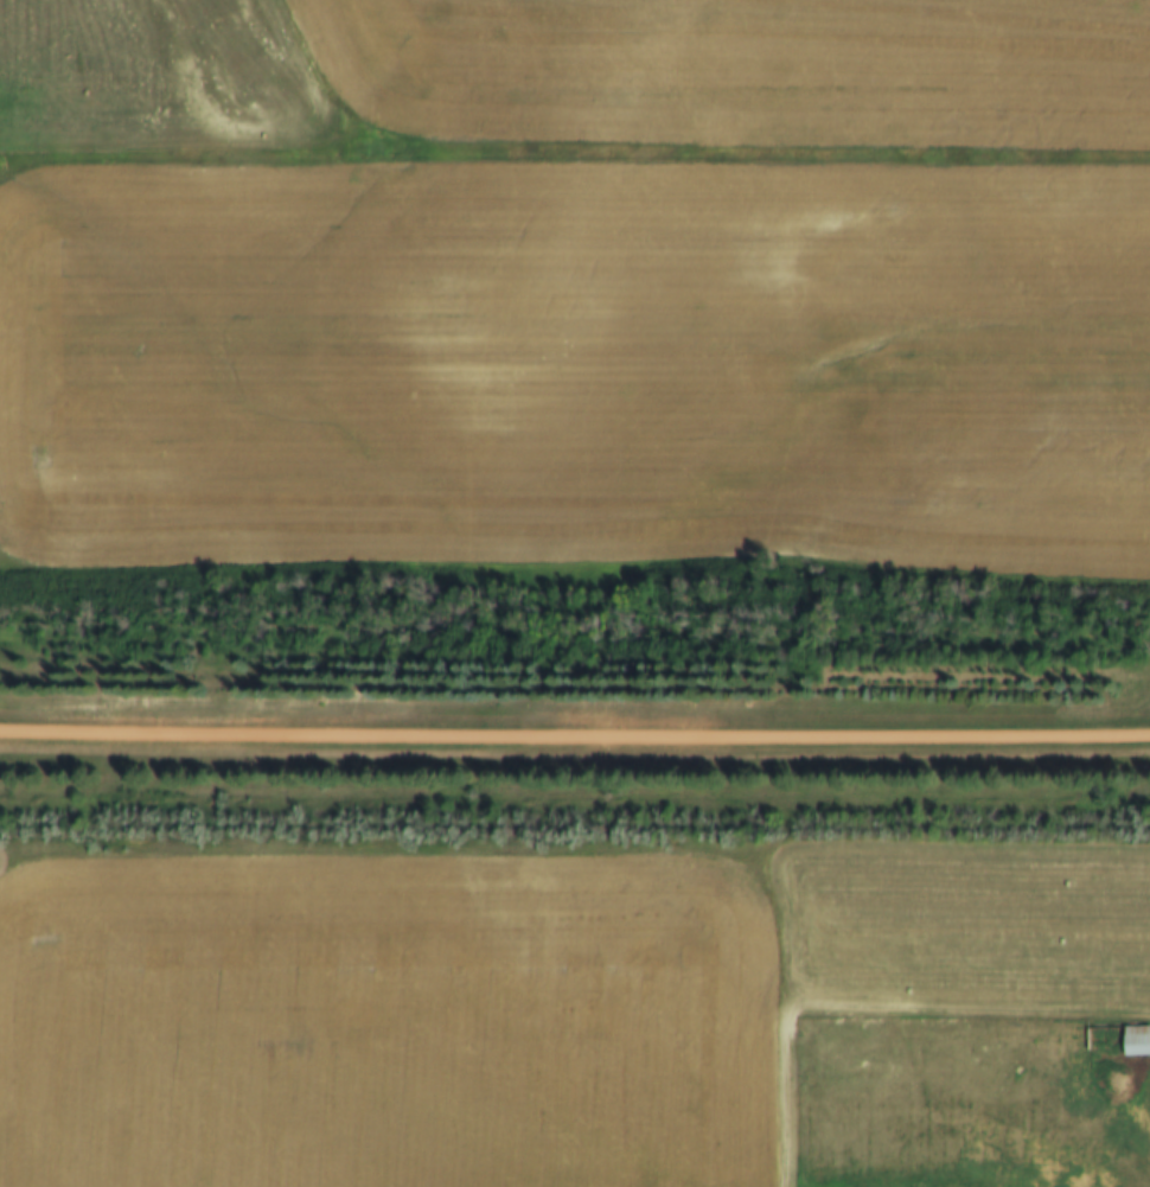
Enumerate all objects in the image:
road: (574, 739)
building: (1139, 1042)

